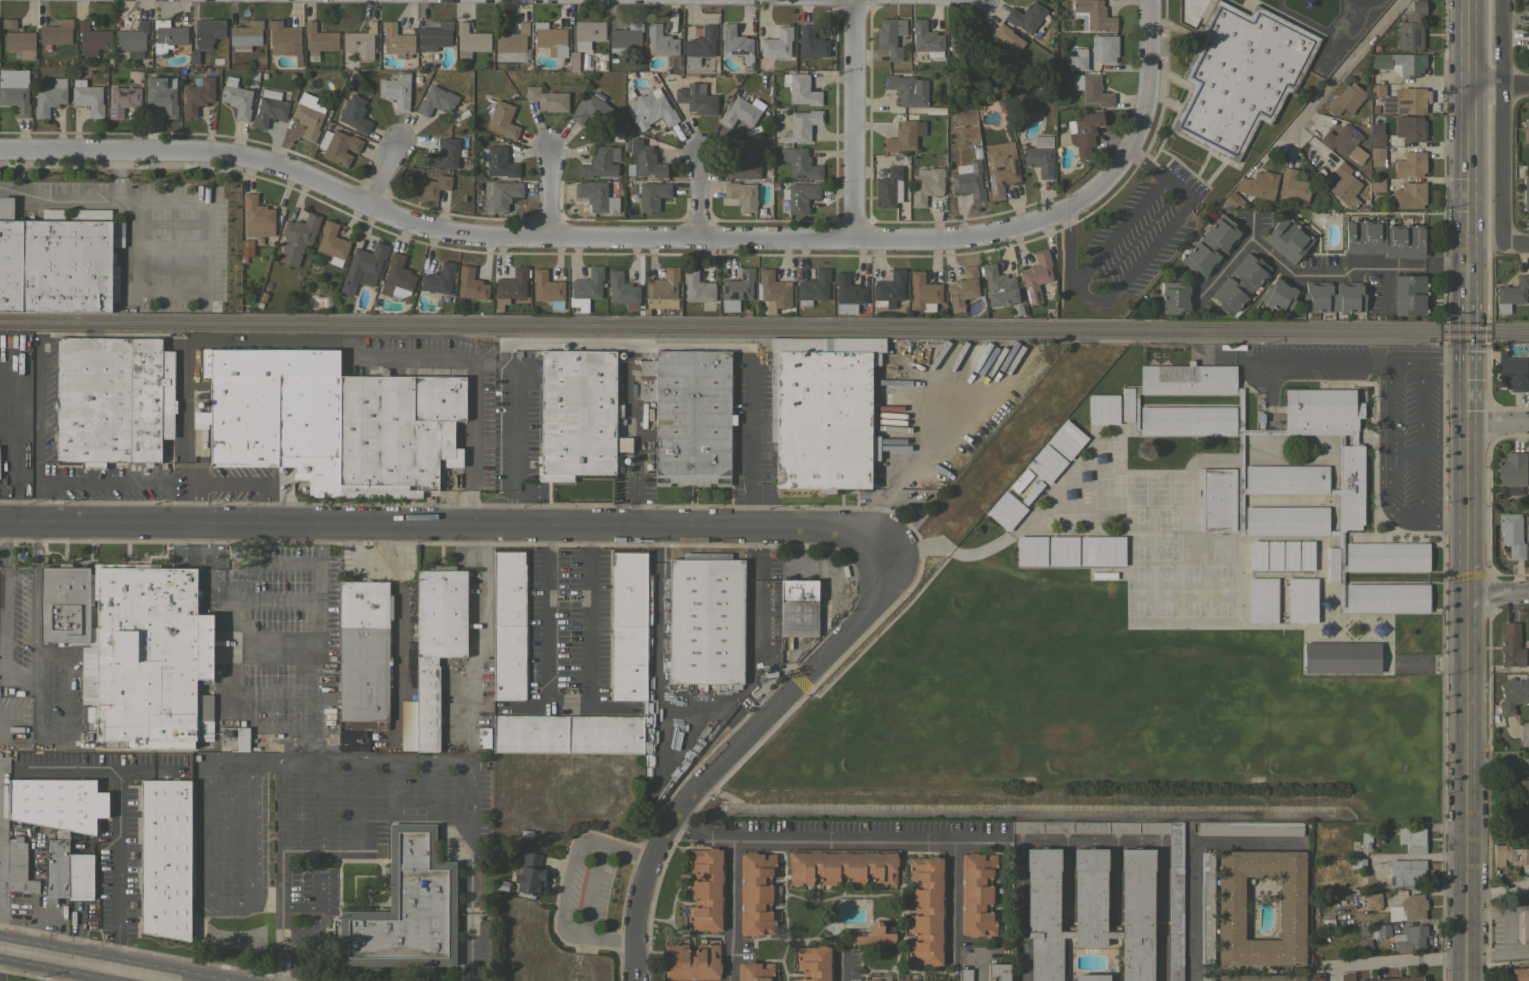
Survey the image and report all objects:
building: (1093, 15)
building: (1025, 16)
building: (8, 23)
building: (1411, 27)
building: (57, 32)
building: (208, 32)
building: (588, 33)
building: (247, 34)
building: (168, 35)
building: (891, 36)
building: (625, 37)
building: (434, 38)
building: (550, 38)
building: (92, 39)
building: (190, 39)
building: (927, 39)
building: (132, 40)
building: (284, 40)
building: (319, 40)
building: (360, 40)
building: (397, 40)
building: (471, 40)
building: (660, 41)
building: (20, 43)
building: (811, 43)
building: (701, 44)
building: (777, 44)
building: (962, 44)
building: (512, 45)
building: (737, 45)
building: (1008, 47)
building: (1104, 48)
building: (194, 57)
building: (1077, 59)
building: (109, 60)
building: (573, 61)
building: (1400, 63)
building: (346, 64)
building: (600, 64)
building: (1092, 65)
building: (181, 69)
building: (1240, 75)
building: (181, 76)
building: (190, 79)
road: (1499, 86)
building: (800, 89)
building: (1092, 89)
building: (15, 90)
building: (397, 90)
building: (906, 90)
building: (1377, 90)
building: (162, 94)
building: (197, 95)
road: (1315, 96)
building: (49, 97)
building: (88, 97)
building: (696, 98)
building: (237, 99)
building: (548, 99)
building: (1345, 99)
building: (122, 100)
building: (435, 100)
building: (1406, 100)
building: (467, 103)
building: (269, 108)
building: (590, 109)
building: (649, 109)
building: (741, 112)
road: (1142, 112)
building: (355, 114)
building: (459, 114)
road: (849, 119)
building: (307, 120)
building: (502, 120)
road: (1503, 122)
building: (802, 125)
building: (1410, 128)
building: (1084, 132)
building: (1526, 132)
building: (905, 135)
building: (1377, 135)
building: (1344, 141)
building: (338, 146)
building: (976, 150)
building: (444, 154)
building: (1040, 155)
building: (1377, 156)
building: (643, 160)
building: (499, 161)
building: (600, 162)
building: (747, 162)
building: (800, 162)
building: (1410, 164)
road: (1157, 170)
building: (1001, 172)
road: (384, 173)
building: (475, 174)
building: (968, 180)
road: (1467, 183)
building: (617, 184)
building: (1377, 184)
building: (926, 185)
building: (1345, 185)
building: (1293, 186)
building: (428, 187)
building: (889, 188)
road: (548, 191)
building: (1257, 191)
building: (504, 194)
building: (1526, 194)
road: (699, 195)
building: (742, 195)
building: (1409, 195)
building: (597, 196)
building: (652, 196)
building: (629, 197)
building: (798, 197)
road: (82, 198)
building: (1364, 201)
building: (1226, 205)
building: (257, 216)
road: (1120, 228)
building: (297, 238)
building: (258, 239)
road: (534, 239)
building: (1287, 239)
building: (1385, 239)
building: (332, 241)
building: (245, 242)
building: (1211, 245)
road: (1516, 245)
road: (1067, 249)
building: (244, 253)
building: (57, 261)
road: (1226, 262)
road: (1139, 263)
building: (363, 267)
road: (1339, 271)
road: (204, 276)
building: (397, 277)
building: (1036, 277)
building: (440, 280)
building: (1240, 283)
building: (471, 284)
building: (603, 284)
building: (511, 286)
building: (998, 286)
building: (586, 287)
building: (697, 287)
building: (813, 287)
building: (547, 288)
building: (889, 288)
building: (963, 288)
building: (737, 289)
building: (623, 290)
building: (663, 290)
building: (774, 290)
building: (923, 292)
building: (1511, 293)
building: (847, 294)
building: (1279, 294)
building: (1410, 294)
building: (262, 296)
building: (1333, 296)
building: (1175, 297)
building: (259, 305)
building: (1017, 309)
building: (644, 311)
building: (744, 311)
building: (769, 311)
building: (871, 313)
railway: (764, 319)
railway: (764, 331)
road: (707, 346)
road: (348, 347)
building: (921, 349)
road: (1318, 363)
road: (1443, 366)
building: (887, 369)
building: (1511, 373)
building: (647, 379)
road: (1467, 397)
building: (112, 400)
building: (1104, 409)
building: (619, 410)
building: (828, 410)
building: (576, 413)
building: (692, 417)
building: (330, 421)
road: (514, 423)
road: (1498, 426)
road: (637, 432)
building: (1067, 439)
road: (1420, 442)
building: (618, 446)
road: (1386, 459)
building: (1046, 463)
road: (903, 464)
building: (1511, 469)
building: (1284, 477)
road: (103, 482)
road: (245, 484)
building: (1032, 492)
road: (187, 494)
building: (1006, 510)
road: (449, 523)
building: (1511, 533)
building: (1528, 549)
building: (1031, 550)
building: (1063, 550)
building: (1102, 551)
building: (1258, 555)
building: (1274, 555)
building: (1290, 555)
building: (1306, 555)
road: (34, 586)
road: (1497, 596)
building: (1301, 599)
building: (1262, 600)
building: (798, 608)
building: (69, 618)
building: (706, 621)
building: (508, 624)
building: (628, 625)
building: (436, 641)
road: (483, 642)
building: (1511, 645)
building: (364, 653)
building: (150, 657)
building: (1341, 657)
road: (1466, 692)
building: (1513, 694)
road: (36, 702)
road: (572, 705)
building: (91, 714)
building: (408, 724)
building: (567, 734)
building: (484, 737)
building: (242, 739)
road: (735, 751)
road: (296, 758)
road: (243, 759)
road: (145, 774)
building: (1521, 790)
building: (57, 803)
road: (115, 809)
building: (1089, 827)
building: (1249, 828)
road: (835, 837)
building: (1412, 839)
building: (1365, 840)
road: (1088, 842)
road: (1190, 856)
building: (1511, 856)
building: (165, 858)
building: (1357, 863)
building: (842, 866)
building: (19, 867)
building: (56, 867)
road: (468, 869)
building: (1405, 872)
building: (80, 876)
building: (529, 876)
road: (1065, 882)
road: (1113, 882)
road: (566, 883)
building: (706, 889)
building: (757, 893)
building: (977, 894)
road: (234, 901)
road: (950, 901)
building: (1175, 901)
building: (1367, 901)
building: (1206, 906)
building: (1231, 907)
building: (405, 908)
road: (730, 908)
building: (1408, 908)
building: (1089, 909)
building: (926, 910)
road: (1018, 911)
road: (1158, 911)
building: (1327, 920)
building: (1525, 925)
building: (1380, 929)
building: (874, 936)
building: (1409, 938)
road: (280, 946)
road: (97, 960)
building: (691, 962)
building: (815, 963)
road: (1394, 963)
road: (840, 966)
road: (977, 966)
road: (1466, 969)
building: (755, 971)
building: (999, 972)
building: (1520, 974)
building: (965, 975)
building: (1092, 977)
building: (1259, 977)
building: (1316, 977)
building: (1346, 977)
building: (1206, 978)
building: (1395, 978)
building: (878, 980)
building: (907, 980)
building: (936, 980)

